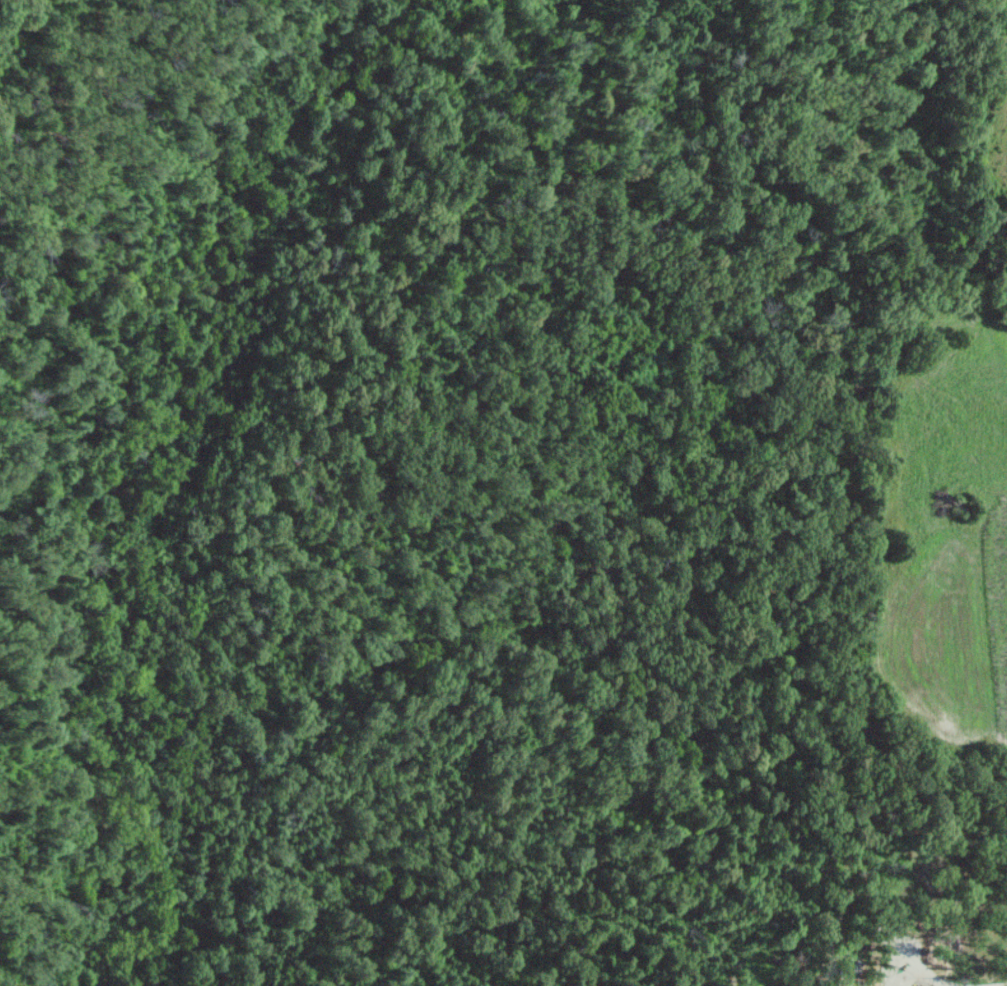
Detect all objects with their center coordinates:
road: (1001, 985)

